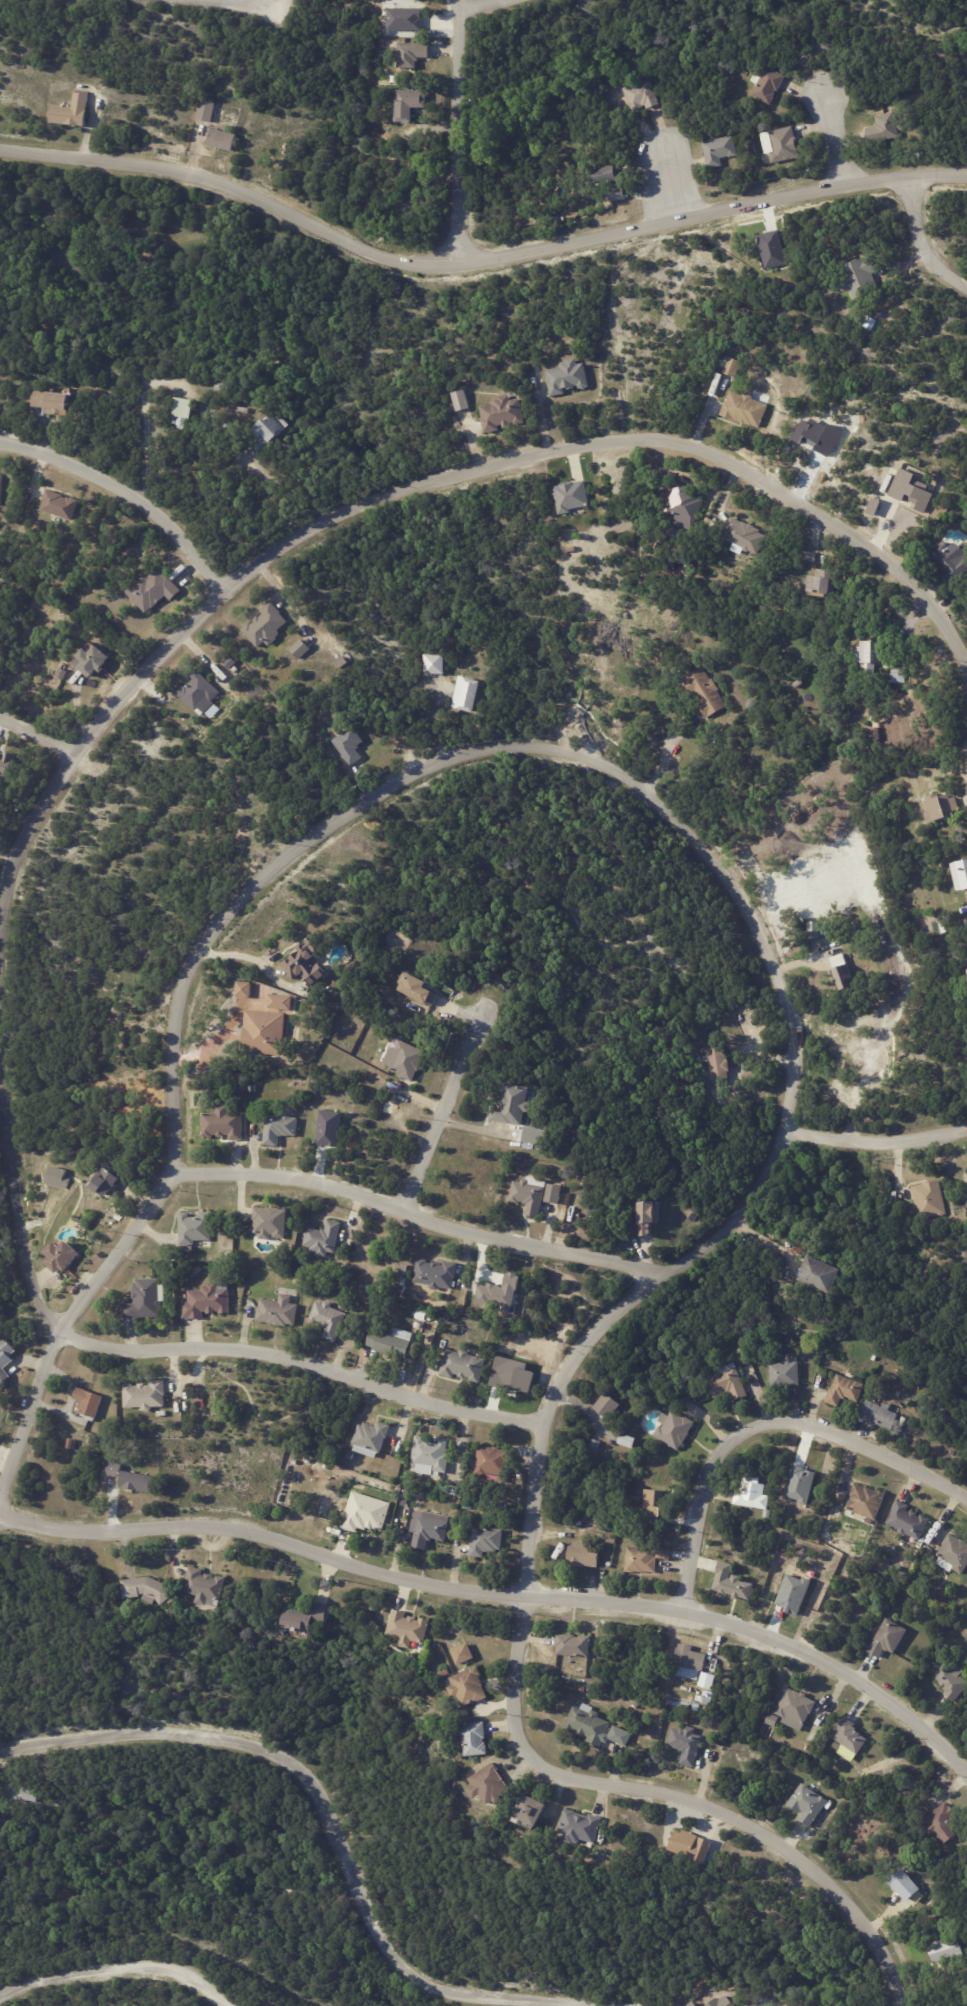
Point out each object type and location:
road: (241, 3)
road: (488, 8)
building: (404, 18)
building: (411, 54)
building: (394, 79)
building: (767, 84)
building: (642, 95)
building: (409, 104)
building: (205, 111)
building: (72, 113)
building: (885, 128)
road: (460, 133)
building: (222, 139)
road: (834, 139)
building: (782, 145)
building: (566, 149)
building: (720, 150)
building: (605, 175)
road: (674, 185)
building: (617, 195)
road: (921, 241)
building: (771, 249)
road: (477, 261)
building: (859, 277)
building: (870, 322)
building: (732, 366)
building: (766, 373)
building: (567, 376)
building: (221, 384)
building: (459, 400)
building: (54, 401)
building: (745, 409)
building: (242, 410)
building: (182, 412)
building: (502, 413)
building: (272, 431)
road: (412, 486)
road: (132, 487)
building: (1, 490)
building: (910, 490)
building: (571, 495)
road: (277, 496)
building: (685, 503)
building: (59, 504)
building: (872, 506)
building: (744, 535)
building: (809, 556)
building: (949, 562)
building: (823, 582)
building: (151, 589)
building: (265, 626)
building: (298, 648)
building: (869, 656)
building: (91, 661)
building: (230, 663)
building: (434, 664)
building: (63, 674)
building: (899, 675)
building: (798, 685)
building: (705, 691)
building: (197, 693)
building: (468, 694)
building: (858, 701)
building: (920, 715)
road: (37, 735)
building: (349, 746)
road: (665, 750)
building: (5, 763)
building: (941, 807)
building: (960, 874)
building: (810, 910)
building: (943, 930)
building: (836, 959)
building: (305, 962)
road: (774, 975)
building: (843, 976)
building: (244, 990)
building: (417, 990)
building: (279, 1003)
building: (753, 1019)
building: (263, 1033)
building: (407, 1060)
building: (717, 1063)
building: (253, 1089)
building: (241, 1090)
building: (512, 1106)
road: (450, 1109)
building: (224, 1124)
building: (328, 1128)
building: (279, 1129)
building: (534, 1135)
road: (875, 1138)
building: (561, 1168)
building: (56, 1177)
building: (104, 1182)
building: (552, 1194)
building: (527, 1197)
building: (928, 1200)
road: (416, 1213)
building: (647, 1218)
building: (270, 1223)
building: (195, 1228)
road: (764, 1235)
building: (323, 1239)
building: (60, 1256)
building: (271, 1267)
building: (436, 1275)
building: (818, 1275)
building: (298, 1282)
building: (498, 1293)
building: (145, 1300)
building: (207, 1302)
building: (278, 1312)
building: (447, 1318)
building: (435, 1319)
building: (328, 1320)
building: (390, 1343)
road: (167, 1350)
building: (424, 1356)
building: (5, 1359)
building: (463, 1366)
building: (785, 1374)
building: (727, 1382)
building: (844, 1391)
building: (145, 1396)
building: (91, 1405)
building: (607, 1407)
building: (162, 1413)
building: (625, 1413)
building: (878, 1415)
road: (763, 1426)
building: (673, 1430)
building: (372, 1440)
building: (627, 1441)
building: (72, 1444)
building: (594, 1447)
building: (431, 1455)
building: (352, 1456)
building: (288, 1461)
building: (308, 1462)
building: (493, 1462)
building: (326, 1467)
building: (132, 1479)
building: (455, 1493)
building: (753, 1495)
building: (865, 1502)
building: (652, 1507)
building: (768, 1513)
building: (365, 1514)
building: (907, 1521)
building: (430, 1530)
building: (611, 1540)
building: (486, 1542)
building: (928, 1551)
building: (664, 1555)
building: (953, 1555)
building: (583, 1556)
building: (641, 1561)
building: (731, 1582)
building: (204, 1584)
building: (145, 1586)
road: (503, 1597)
building: (371, 1607)
building: (305, 1614)
building: (407, 1627)
building: (888, 1638)
building: (573, 1644)
building: (461, 1653)
building: (690, 1660)
building: (445, 1672)
building: (708, 1679)
building: (952, 1681)
building: (570, 1682)
building: (468, 1686)
building: (583, 1688)
building: (703, 1696)
building: (796, 1707)
building: (773, 1718)
building: (659, 1719)
building: (596, 1726)
building: (850, 1735)
building: (475, 1738)
building: (687, 1743)
building: (489, 1782)
building: (28, 1797)
building: (809, 1802)
building: (529, 1806)
road: (325, 1816)
building: (1, 1821)
building: (943, 1821)
building: (579, 1826)
building: (602, 1837)
building: (689, 1845)
building: (904, 1882)
building: (945, 1947)
road: (118, 1972)
building: (719, 2001)
building: (689, 2004)

